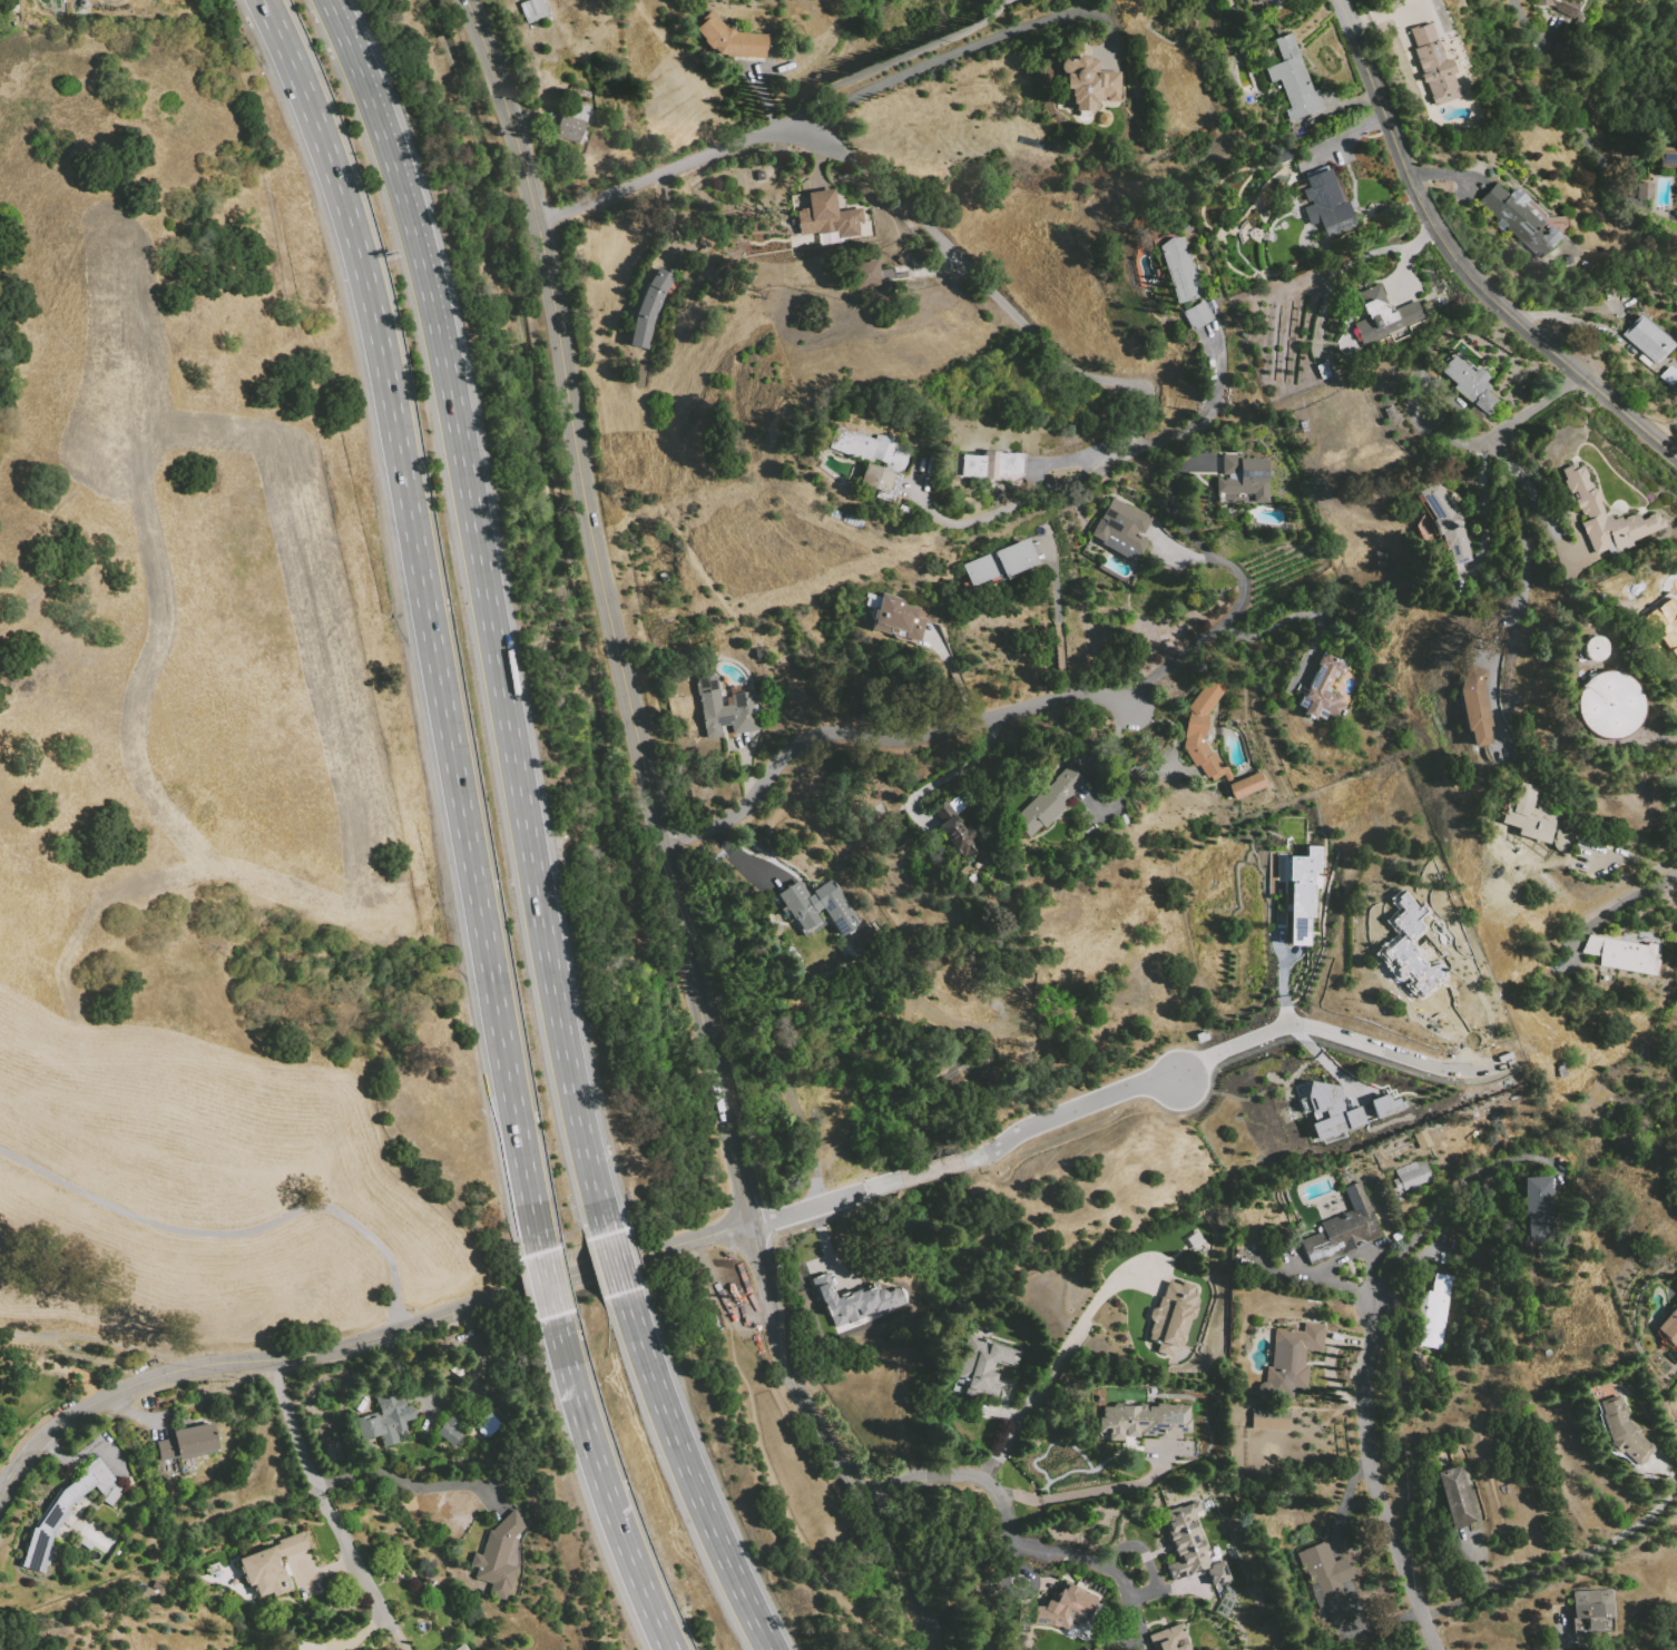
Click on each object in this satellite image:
building: (1262, 1)
building: (1560, 6)
building: (532, 10)
road: (1523, 23)
building: (728, 38)
road: (941, 60)
building: (1434, 66)
building: (1293, 80)
building: (1088, 82)
building: (579, 92)
building: (573, 121)
building: (1668, 159)
road: (668, 171)
building: (1644, 190)
building: (1326, 205)
building: (1511, 212)
building: (827, 218)
building: (1550, 237)
road: (1461, 258)
building: (1180, 269)
building: (864, 274)
road: (990, 292)
building: (649, 308)
building: (1197, 315)
building: (1384, 317)
building: (1647, 338)
building: (1323, 371)
building: (1464, 379)
building: (1484, 403)
building: (1471, 418)
road: (1450, 439)
building: (870, 448)
road: (1098, 465)
building: (993, 466)
building: (876, 478)
building: (1243, 478)
building: (879, 494)
road: (1485, 501)
road: (1537, 501)
road: (1169, 505)
building: (1606, 515)
building: (1442, 523)
building: (1121, 528)
road: (1523, 543)
building: (1013, 558)
building: (981, 569)
road: (491, 611)
road: (594, 611)
road: (1295, 615)
building: (898, 618)
road: (1057, 619)
road: (432, 620)
building: (1663, 622)
road: (1210, 632)
building: (1597, 648)
road: (951, 685)
building: (1323, 689)
building: (1474, 705)
building: (1611, 705)
building: (726, 709)
building: (1202, 728)
road: (879, 734)
road: (1676, 736)
road: (745, 772)
road: (953, 772)
road: (1121, 774)
building: (1246, 785)
building: (1049, 801)
building: (957, 805)
building: (1530, 815)
building: (957, 832)
road: (661, 838)
road: (734, 861)
building: (1302, 894)
building: (817, 907)
road: (1621, 907)
building: (1593, 945)
building: (1408, 949)
building: (1629, 956)
road: (1282, 982)
road: (1459, 1028)
road: (1228, 1049)
road: (1323, 1060)
building: (1385, 1106)
building: (1331, 1110)
road: (931, 1169)
building: (1413, 1175)
building: (1396, 1186)
building: (1536, 1195)
road: (825, 1201)
road: (1441, 1204)
building: (1538, 1227)
building: (1343, 1228)
road: (235, 1234)
building: (1195, 1240)
road: (619, 1265)
building: (1442, 1284)
building: (1676, 1284)
road: (551, 1286)
building: (854, 1299)
road: (1092, 1303)
building: (1423, 1305)
building: (1171, 1316)
building: (1434, 1319)
building: (1669, 1327)
road: (360, 1342)
road: (118, 1344)
road: (73, 1354)
building: (1289, 1361)
building: (983, 1366)
road: (284, 1404)
building: (386, 1420)
building: (1269, 1420)
building: (1142, 1421)
building: (488, 1423)
building: (454, 1424)
building: (1622, 1432)
building: (188, 1442)
road: (762, 1457)
road: (308, 1469)
road: (692, 1474)
road: (984, 1476)
road: (4, 1477)
building: (105, 1481)
road: (1373, 1481)
road: (607, 1485)
road: (415, 1487)
building: (77, 1490)
road: (1090, 1491)
park: (810, 1496)
road: (1346, 1496)
building: (1455, 1497)
building: (56, 1515)
building: (1185, 1542)
building: (292, 1544)
road: (1138, 1546)
building: (38, 1549)
road: (1056, 1550)
building: (498, 1555)
road: (1568, 1561)
building: (1322, 1562)
building: (266, 1573)
building: (1216, 1573)
road: (1164, 1589)
building: (1334, 1598)
building: (1587, 1604)
building: (1607, 1604)
building: (1063, 1609)
building: (1593, 1624)
building: (1168, 1638)
road: (1424, 1644)
building: (462, 1647)
road: (1673, 1647)

